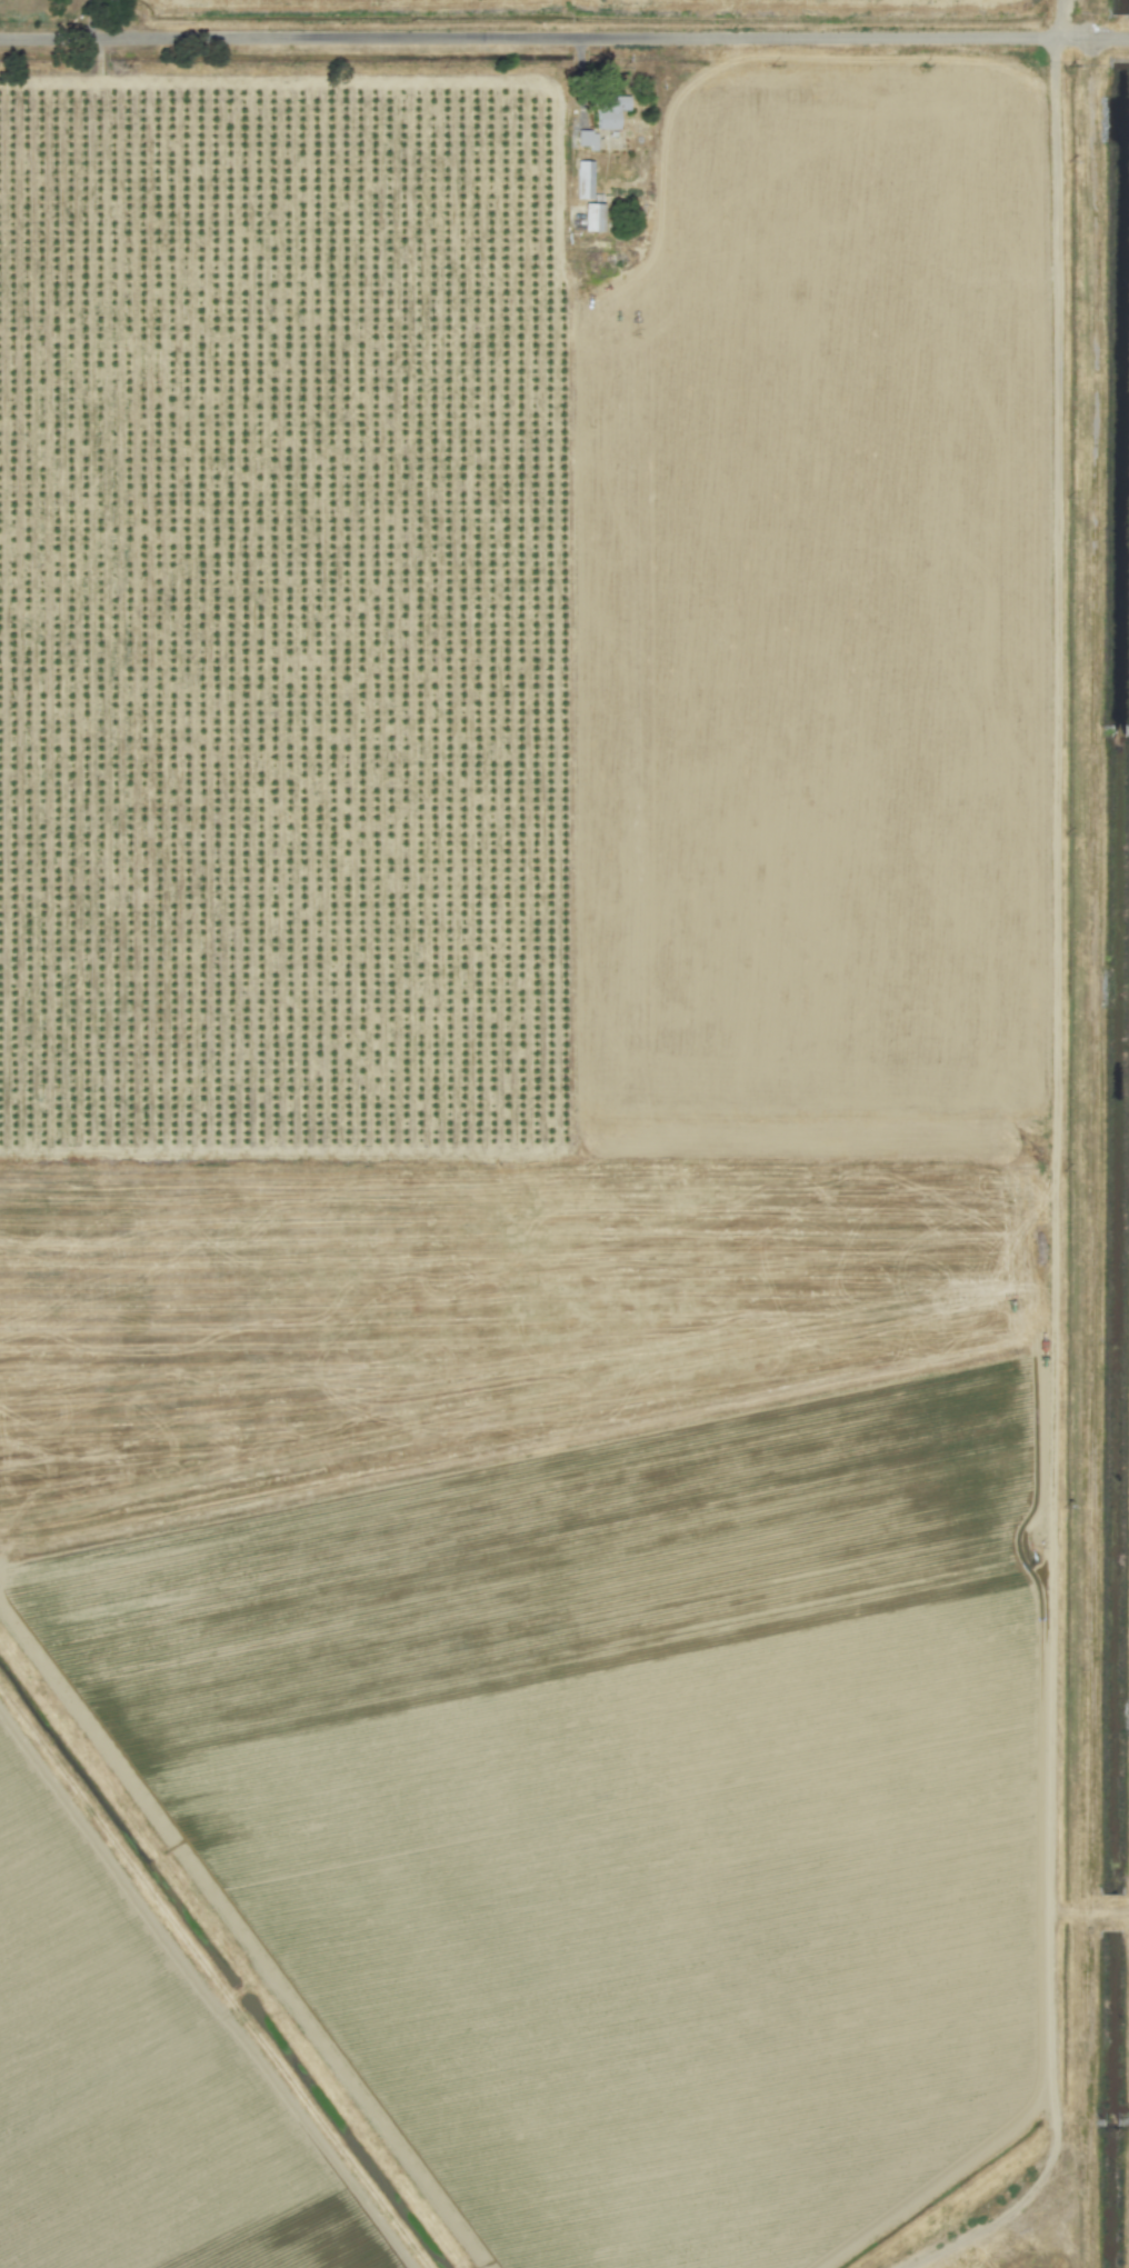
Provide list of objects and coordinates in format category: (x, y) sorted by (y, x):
road: (90, 19)
road: (564, 39)
building: (609, 106)
road: (1057, 1172)
road: (1093, 1917)

